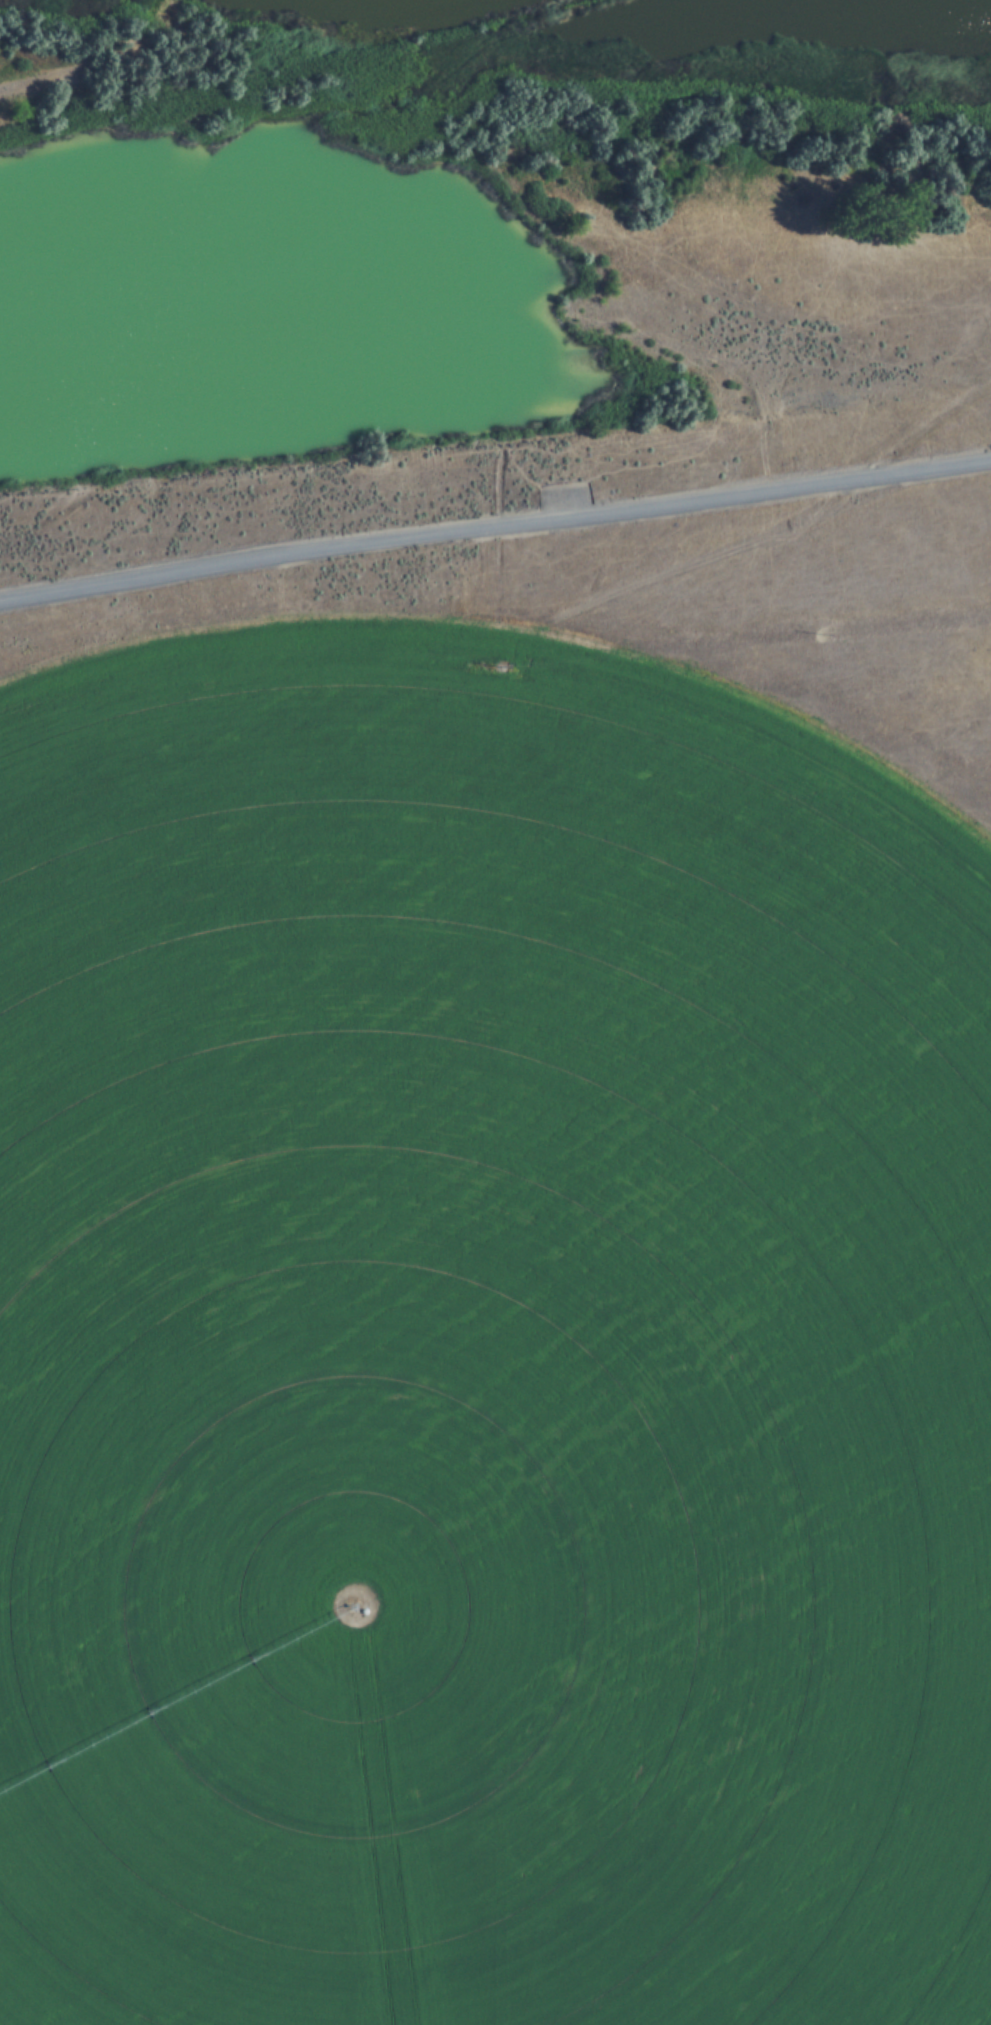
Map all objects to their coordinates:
railway: (312, 77)
road: (560, 488)
parking lot: (567, 498)
road: (494, 519)

